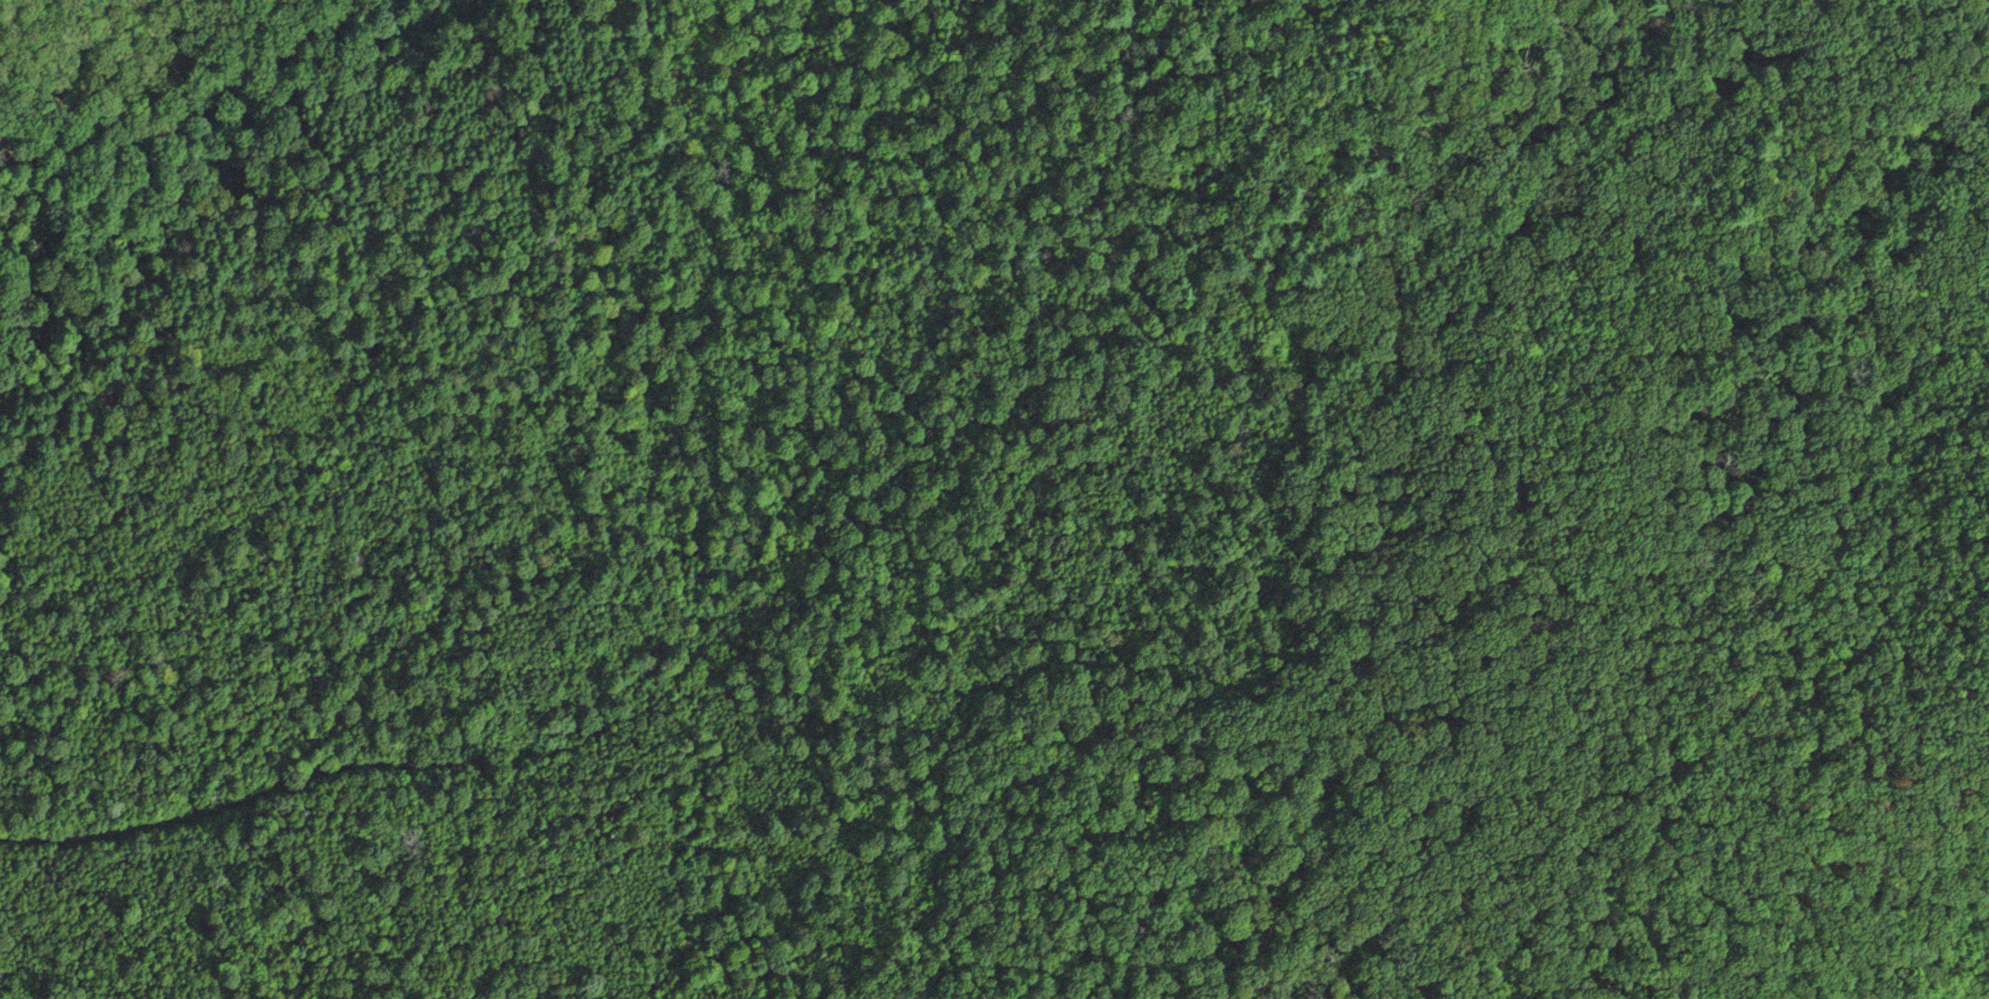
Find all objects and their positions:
road: (1017, 366)
road: (274, 789)

